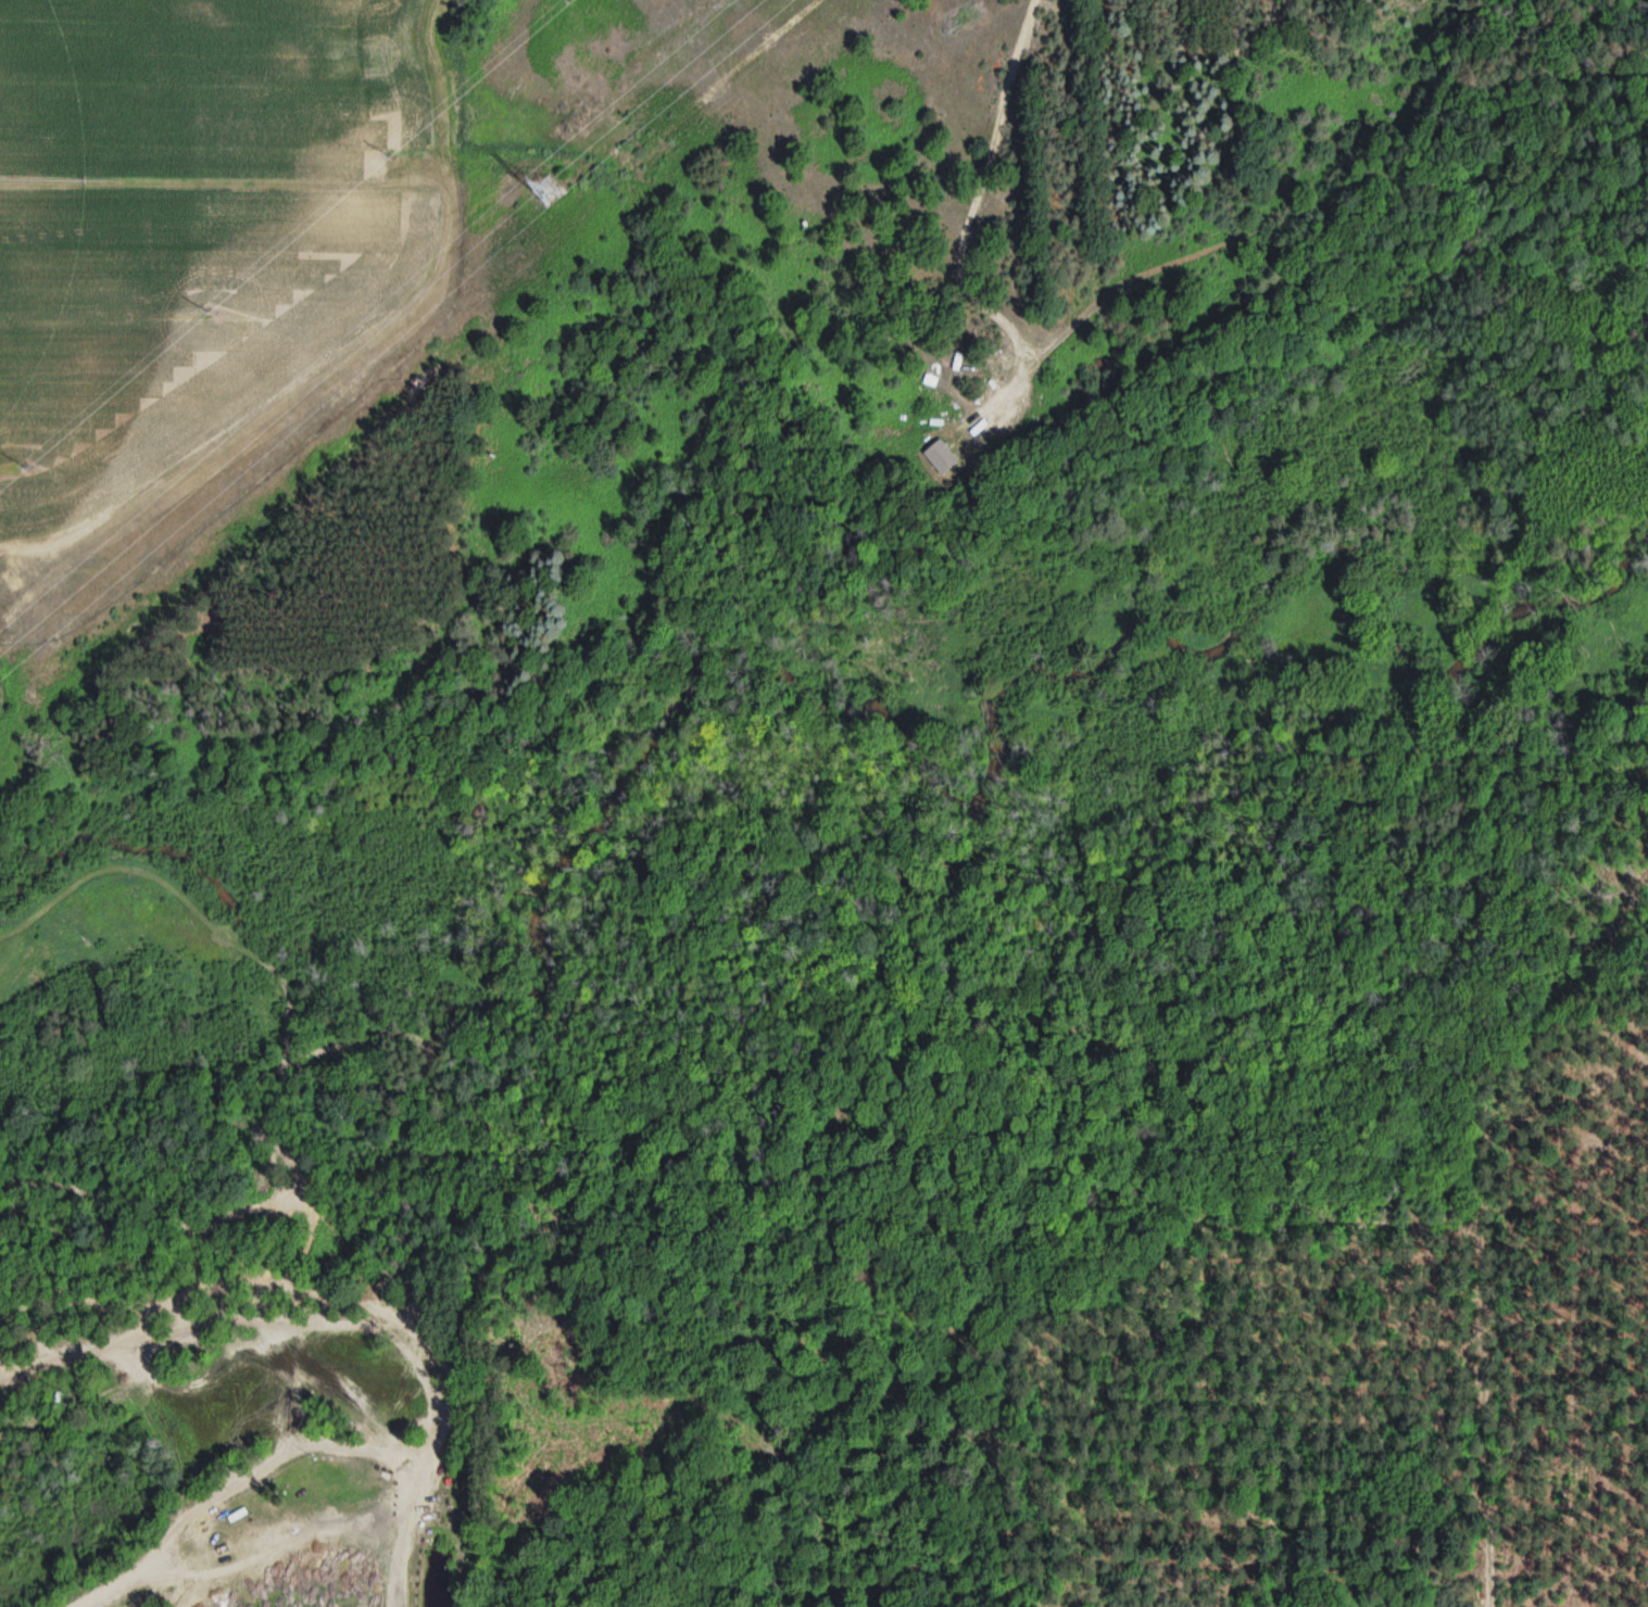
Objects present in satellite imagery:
power tower: (543, 188)
building: (936, 210)

